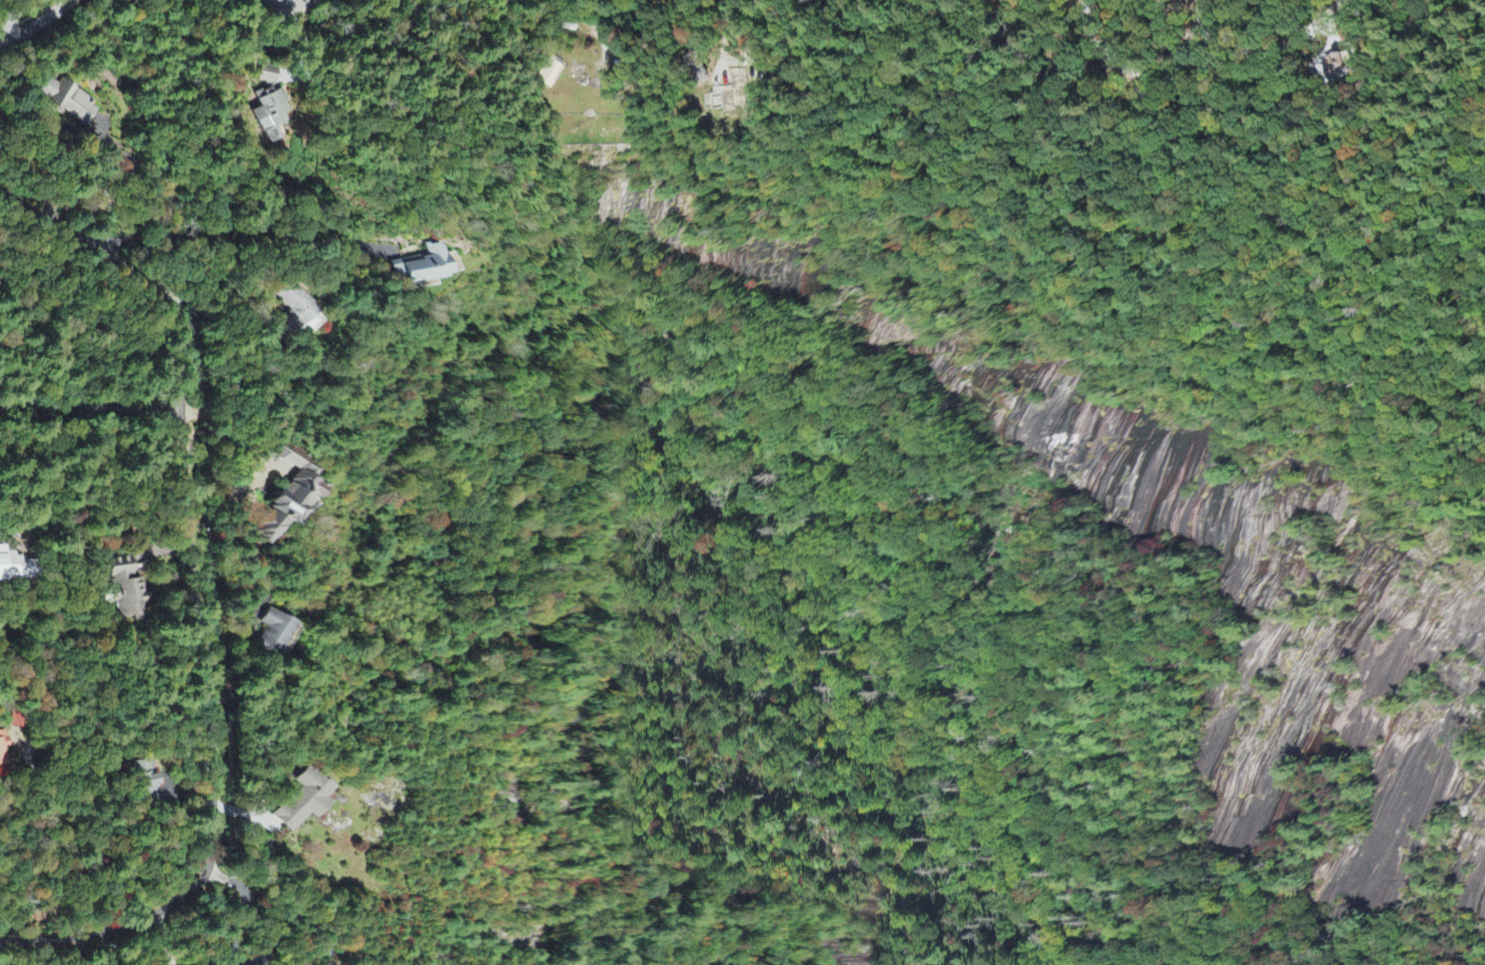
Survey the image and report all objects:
road: (295, 1)
road: (21, 18)
park: (1409, 23)
road: (37, 25)
building: (543, 72)
building: (67, 102)
building: (265, 115)
building: (423, 267)
park: (75, 320)
road: (90, 401)
building: (282, 505)
building: (123, 590)
road: (199, 599)
building: (271, 635)
building: (6, 745)
building: (147, 783)
building: (300, 802)
road: (287, 901)
road: (173, 937)

